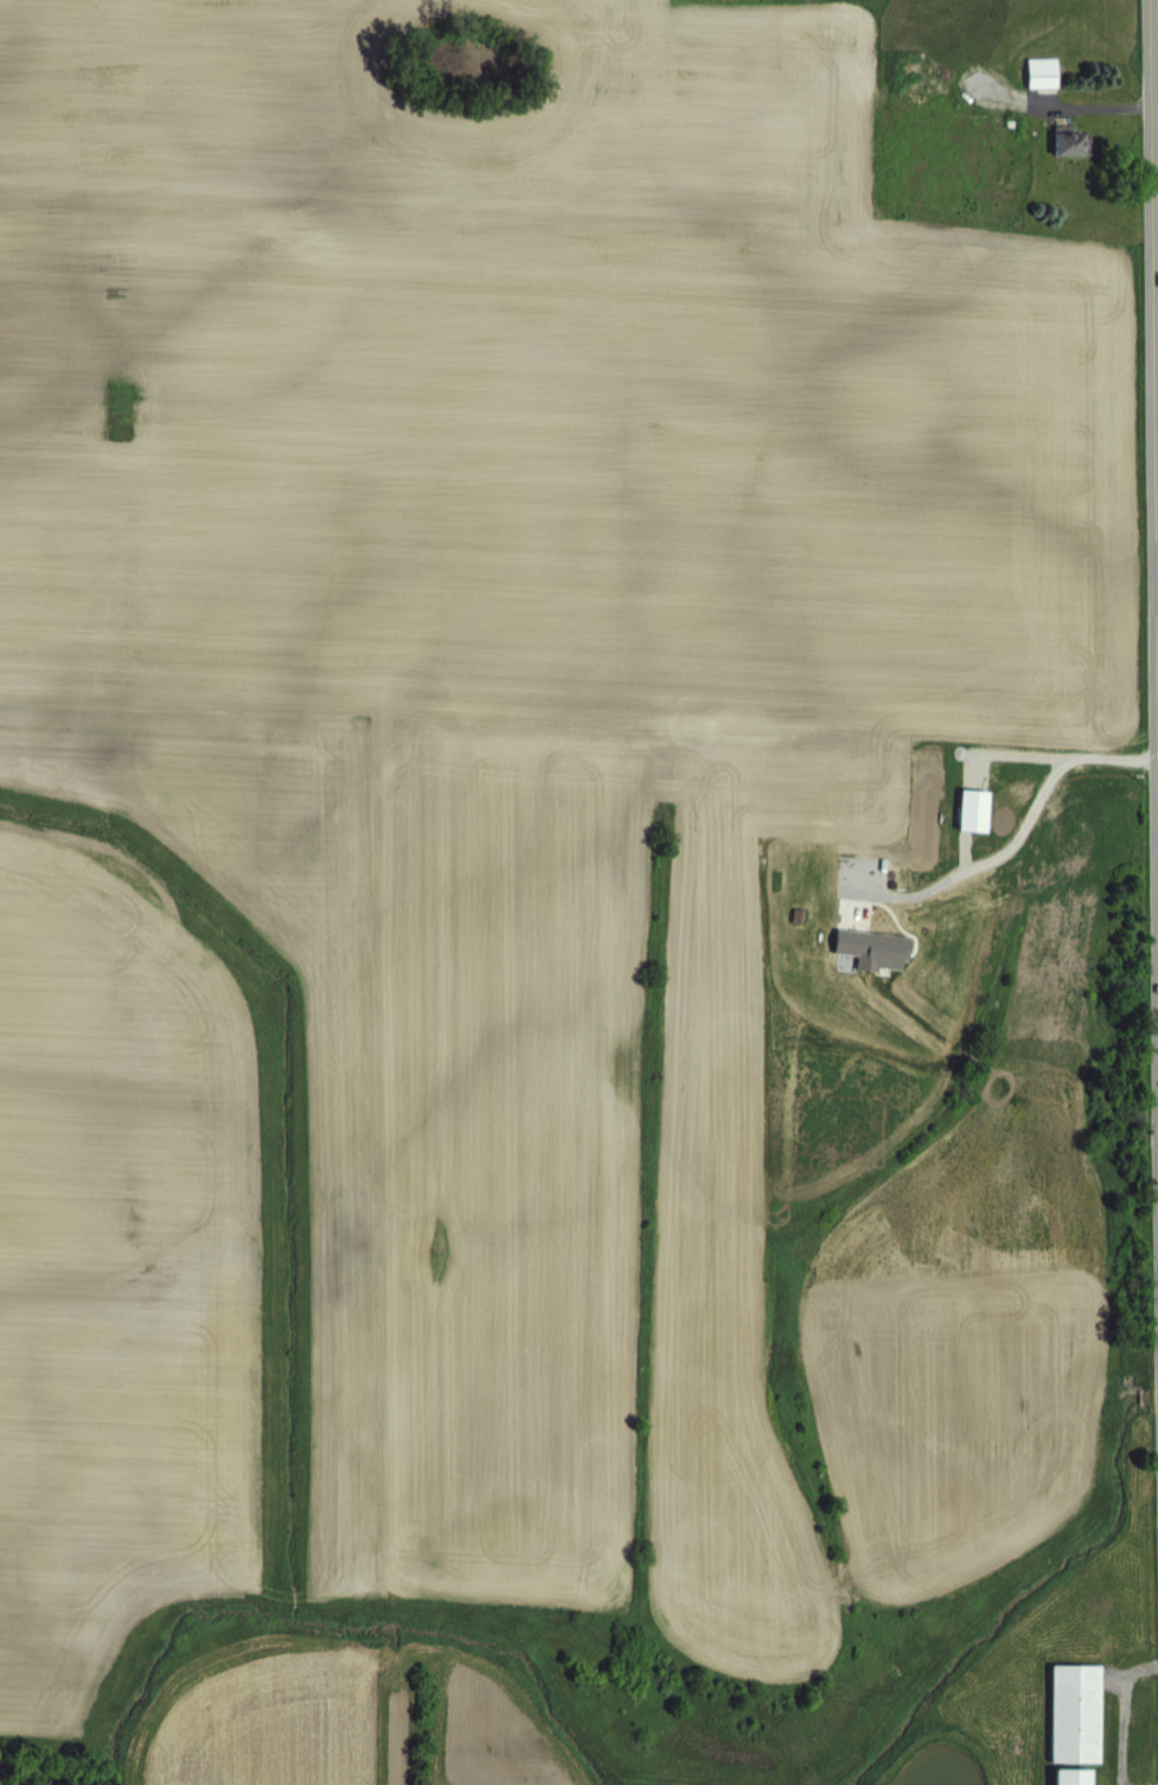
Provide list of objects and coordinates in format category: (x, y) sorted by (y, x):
building: (1043, 91)
road: (1096, 104)
building: (1075, 145)
building: (1073, 161)
road: (1153, 286)
building: (974, 830)
road: (1029, 845)
road: (1124, 1714)
building: (1077, 1733)

